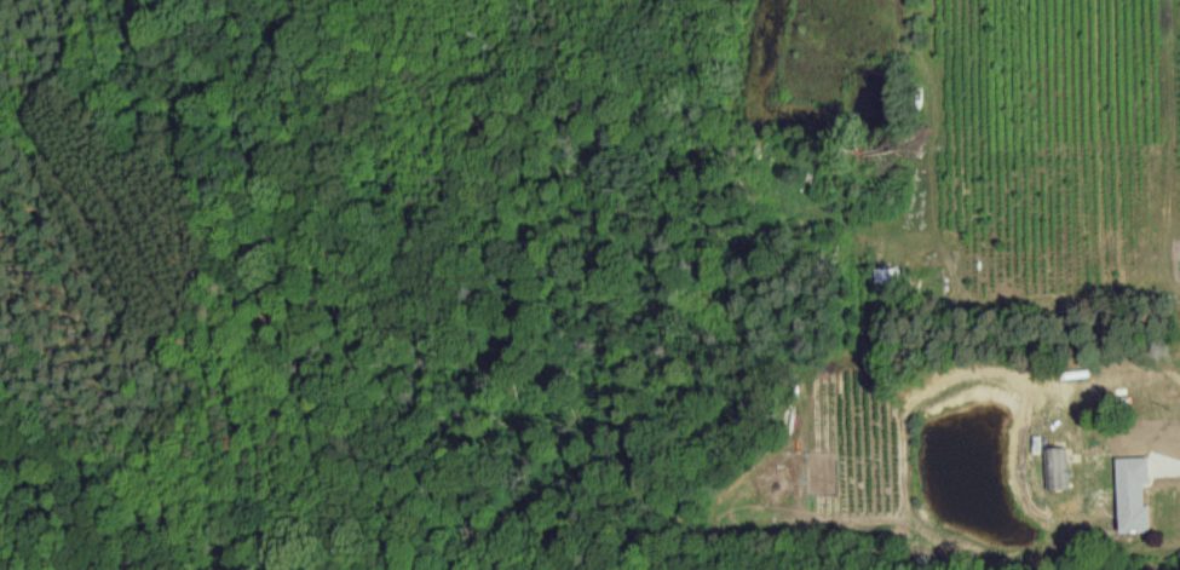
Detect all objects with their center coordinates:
road: (1064, 407)
building: (1054, 467)
building: (1132, 494)

